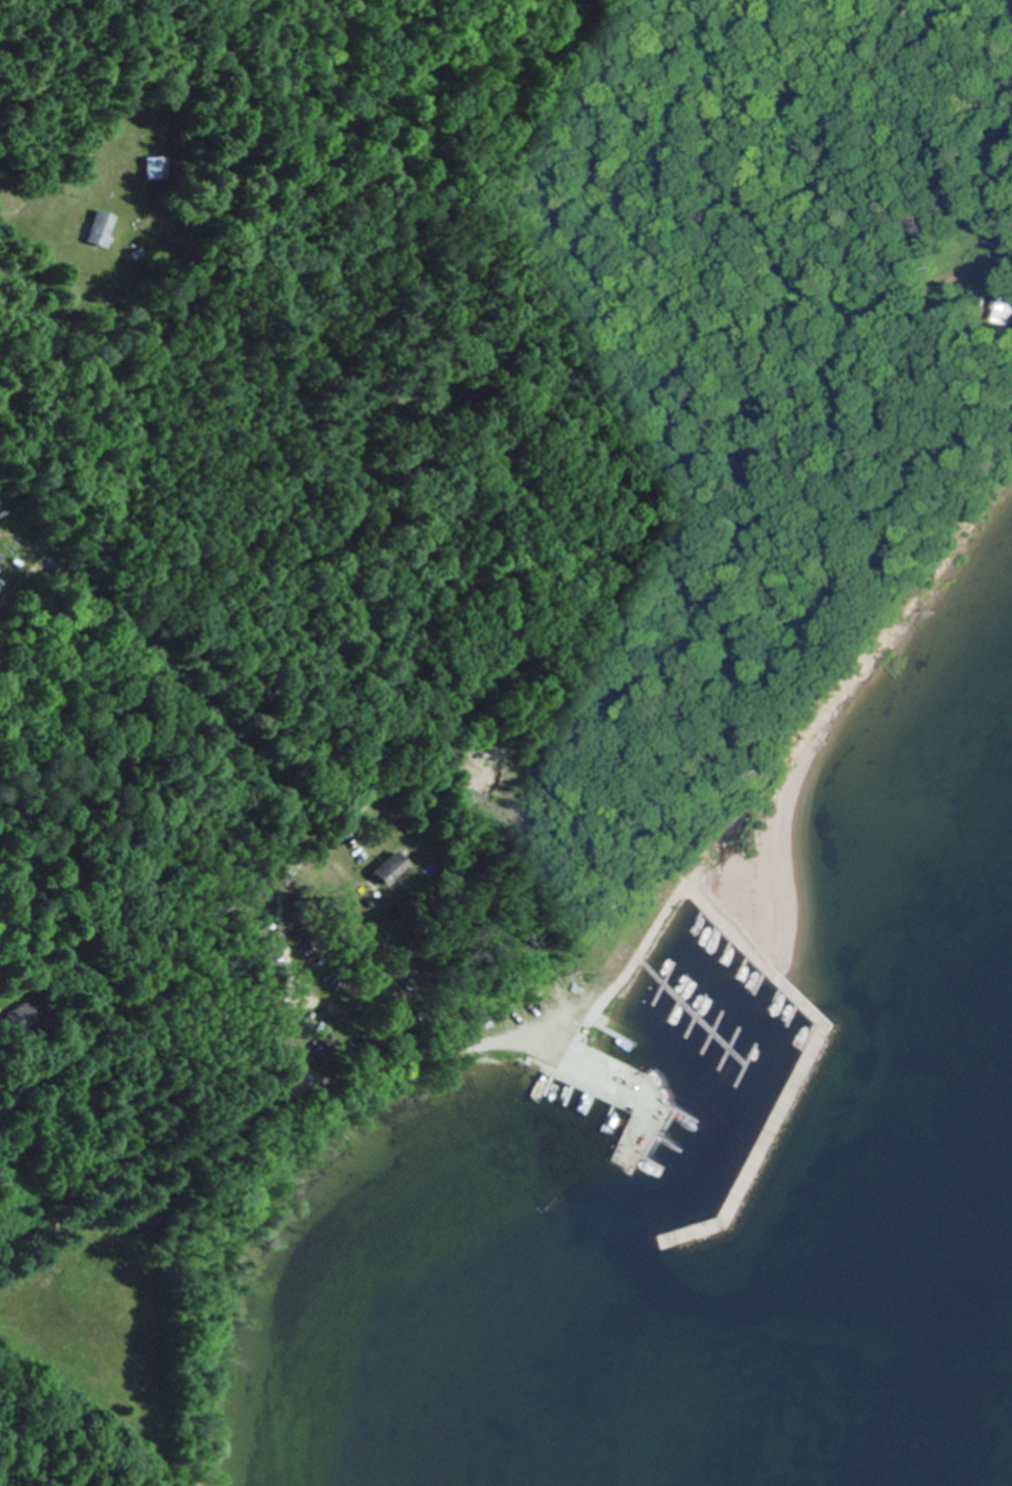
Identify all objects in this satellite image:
road: (436, 3)
building: (153, 167)
building: (94, 228)
building: (967, 250)
road: (696, 275)
park: (22, 556)
road: (537, 644)
building: (385, 869)
road: (616, 979)
pier: (807, 1060)
road: (343, 1074)
pier: (635, 1094)

